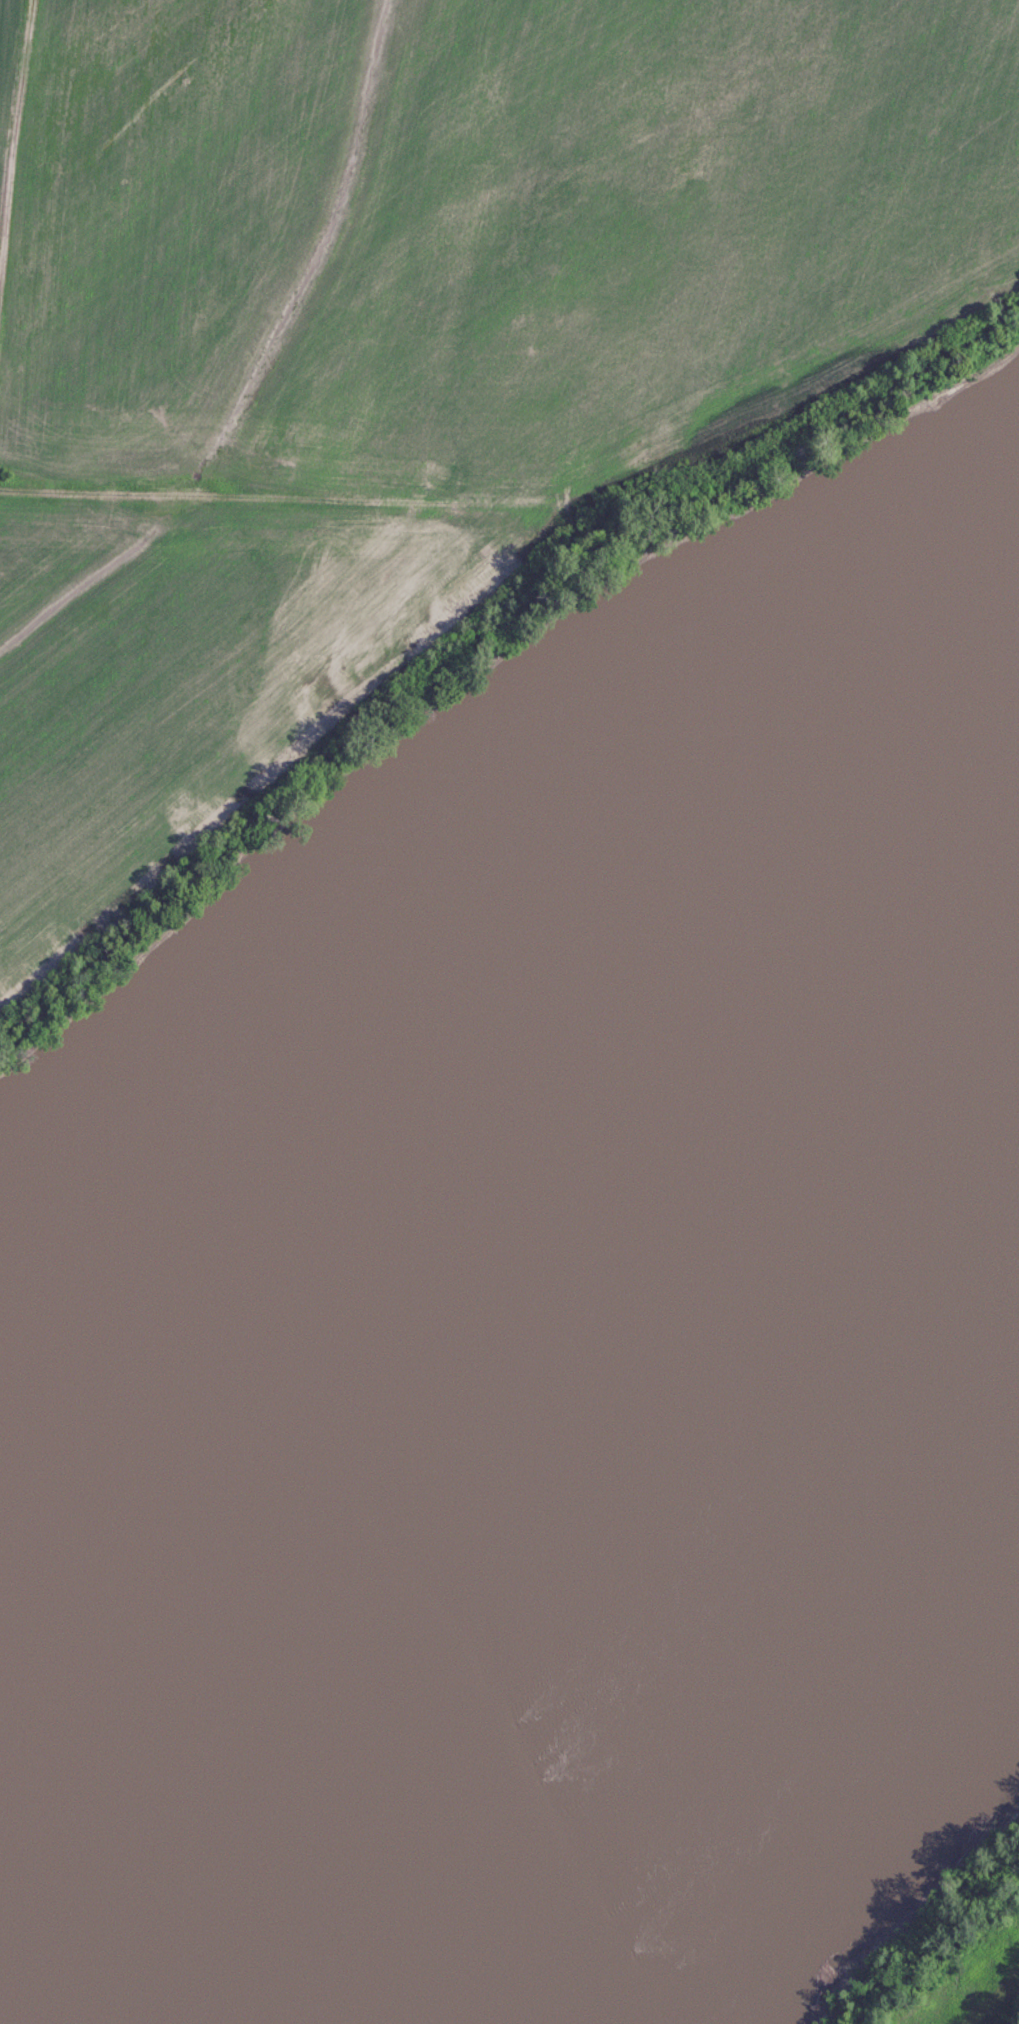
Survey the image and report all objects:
road: (11, 174)
road: (534, 509)
river: (492, 1404)

